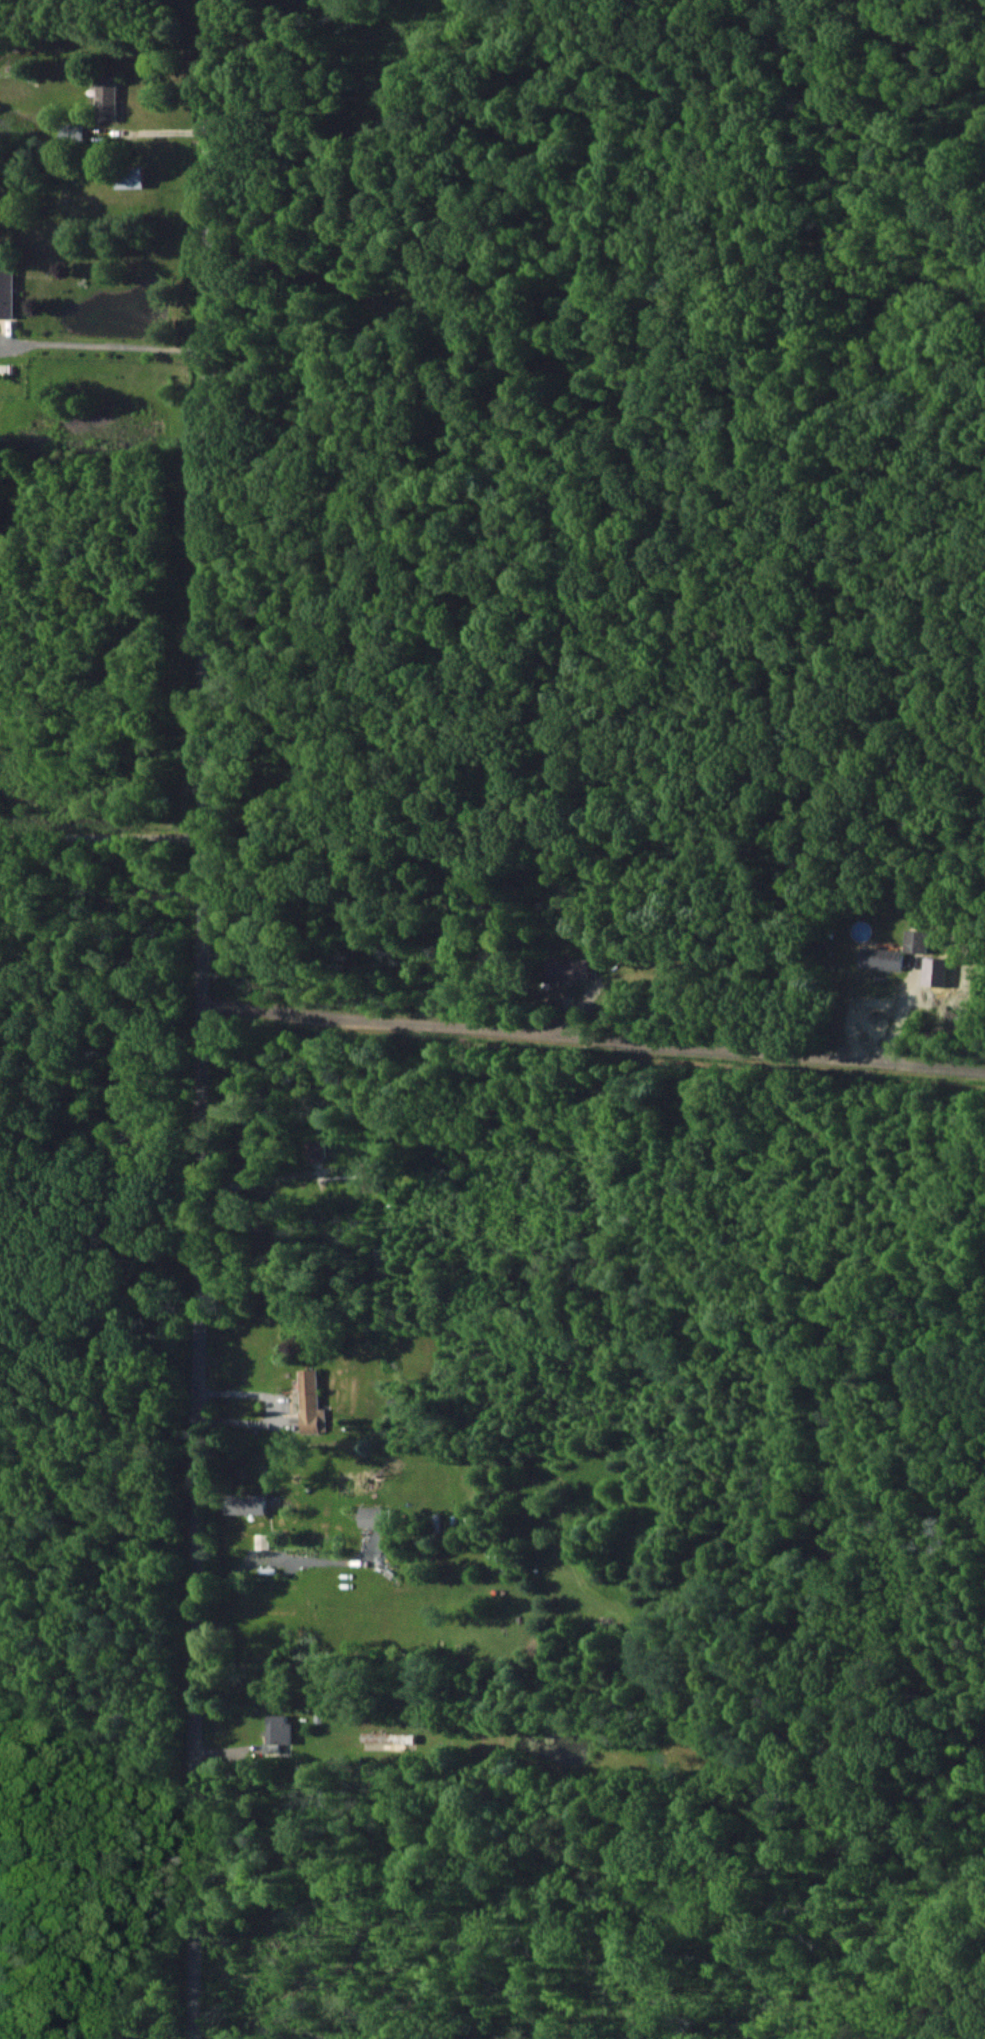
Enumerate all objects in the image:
building: (106, 97)
building: (72, 130)
road: (162, 132)
building: (131, 176)
building: (7, 291)
road: (117, 347)
road: (105, 836)
building: (917, 941)
building: (882, 958)
building: (568, 968)
building: (935, 971)
road: (207, 1019)
road: (571, 1035)
road: (935, 1064)
building: (315, 1150)
building: (373, 1175)
building: (310, 1402)
road: (273, 1409)
building: (246, 1503)
building: (371, 1516)
building: (263, 1541)
building: (278, 1731)
building: (388, 1740)

